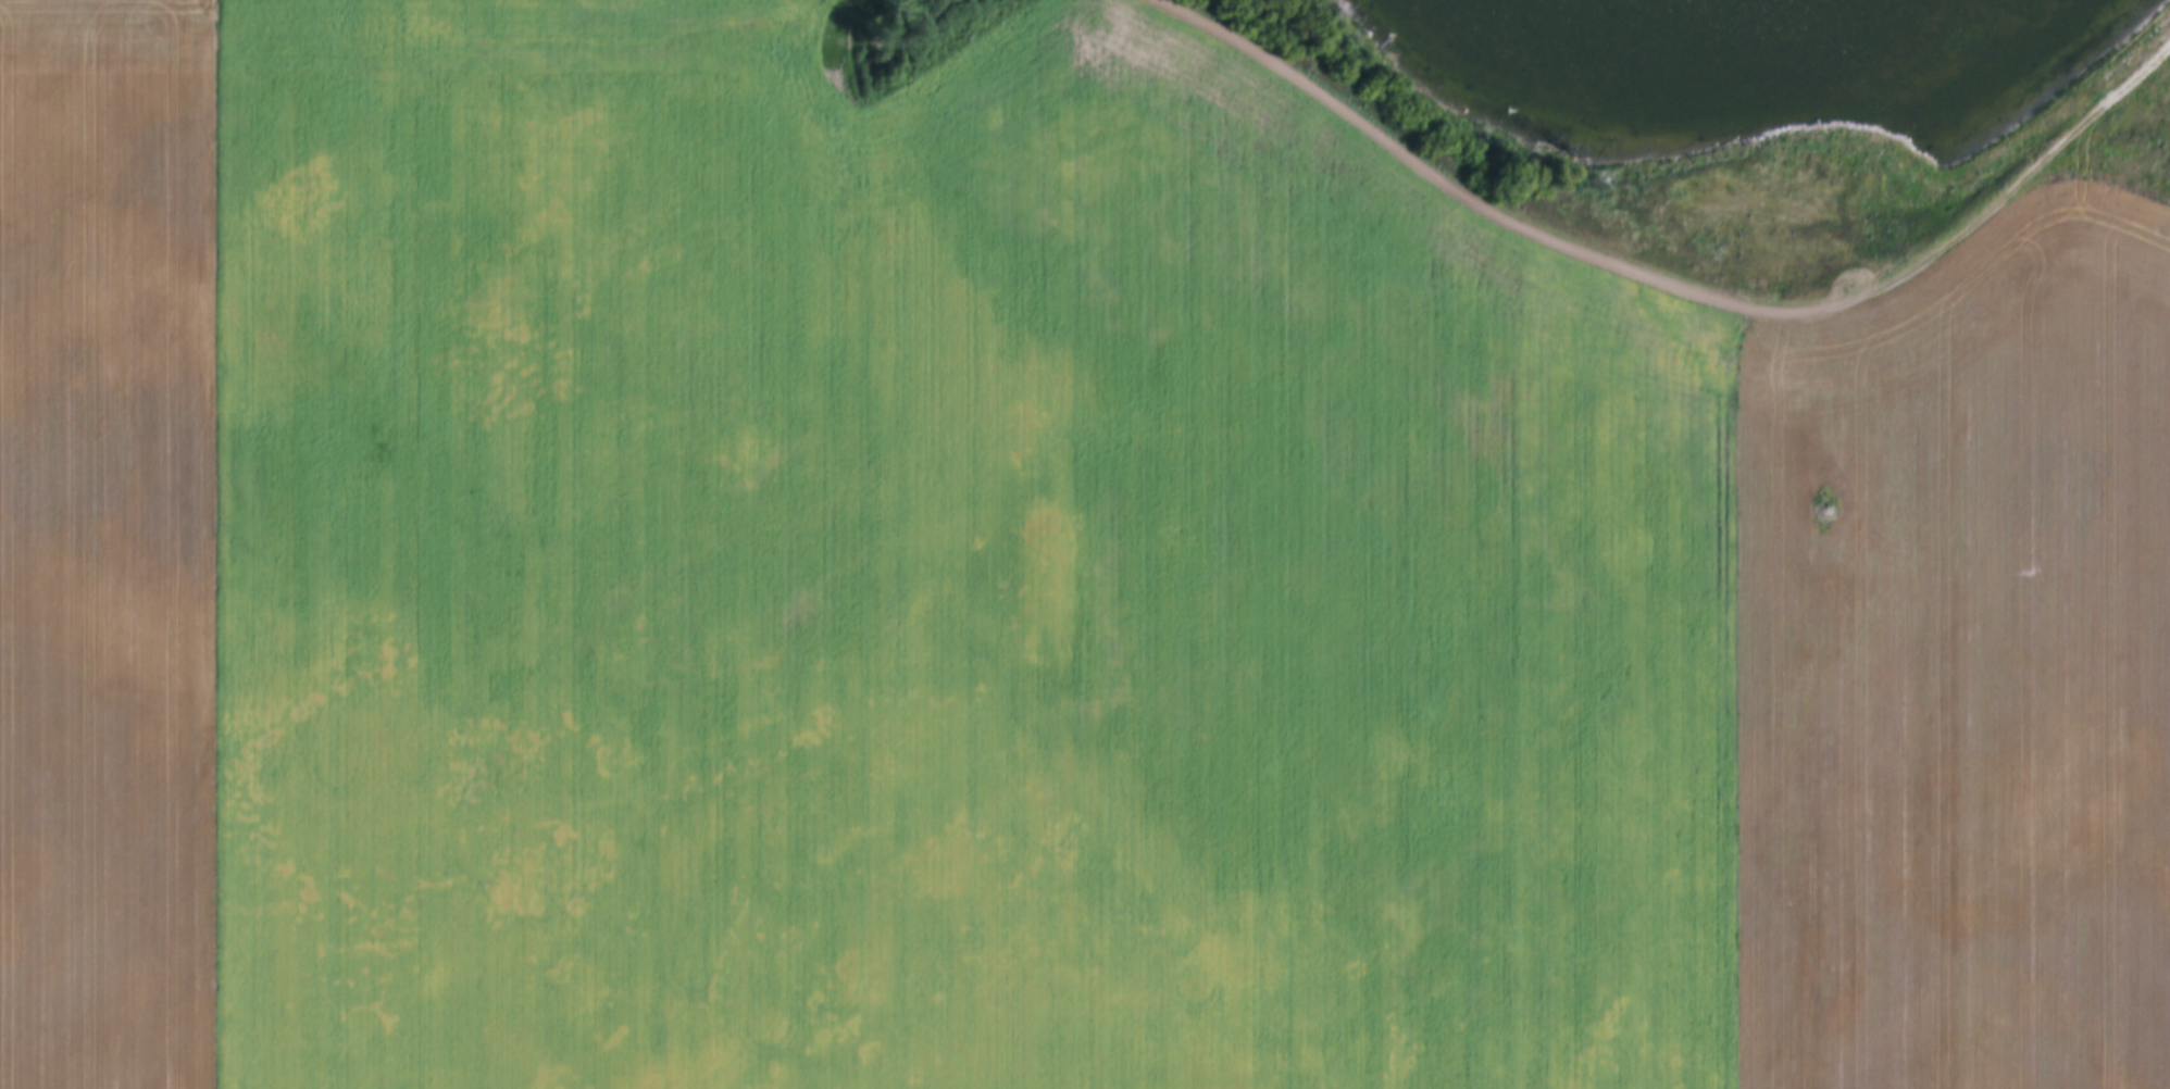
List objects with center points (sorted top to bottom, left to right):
road: (1691, 288)

